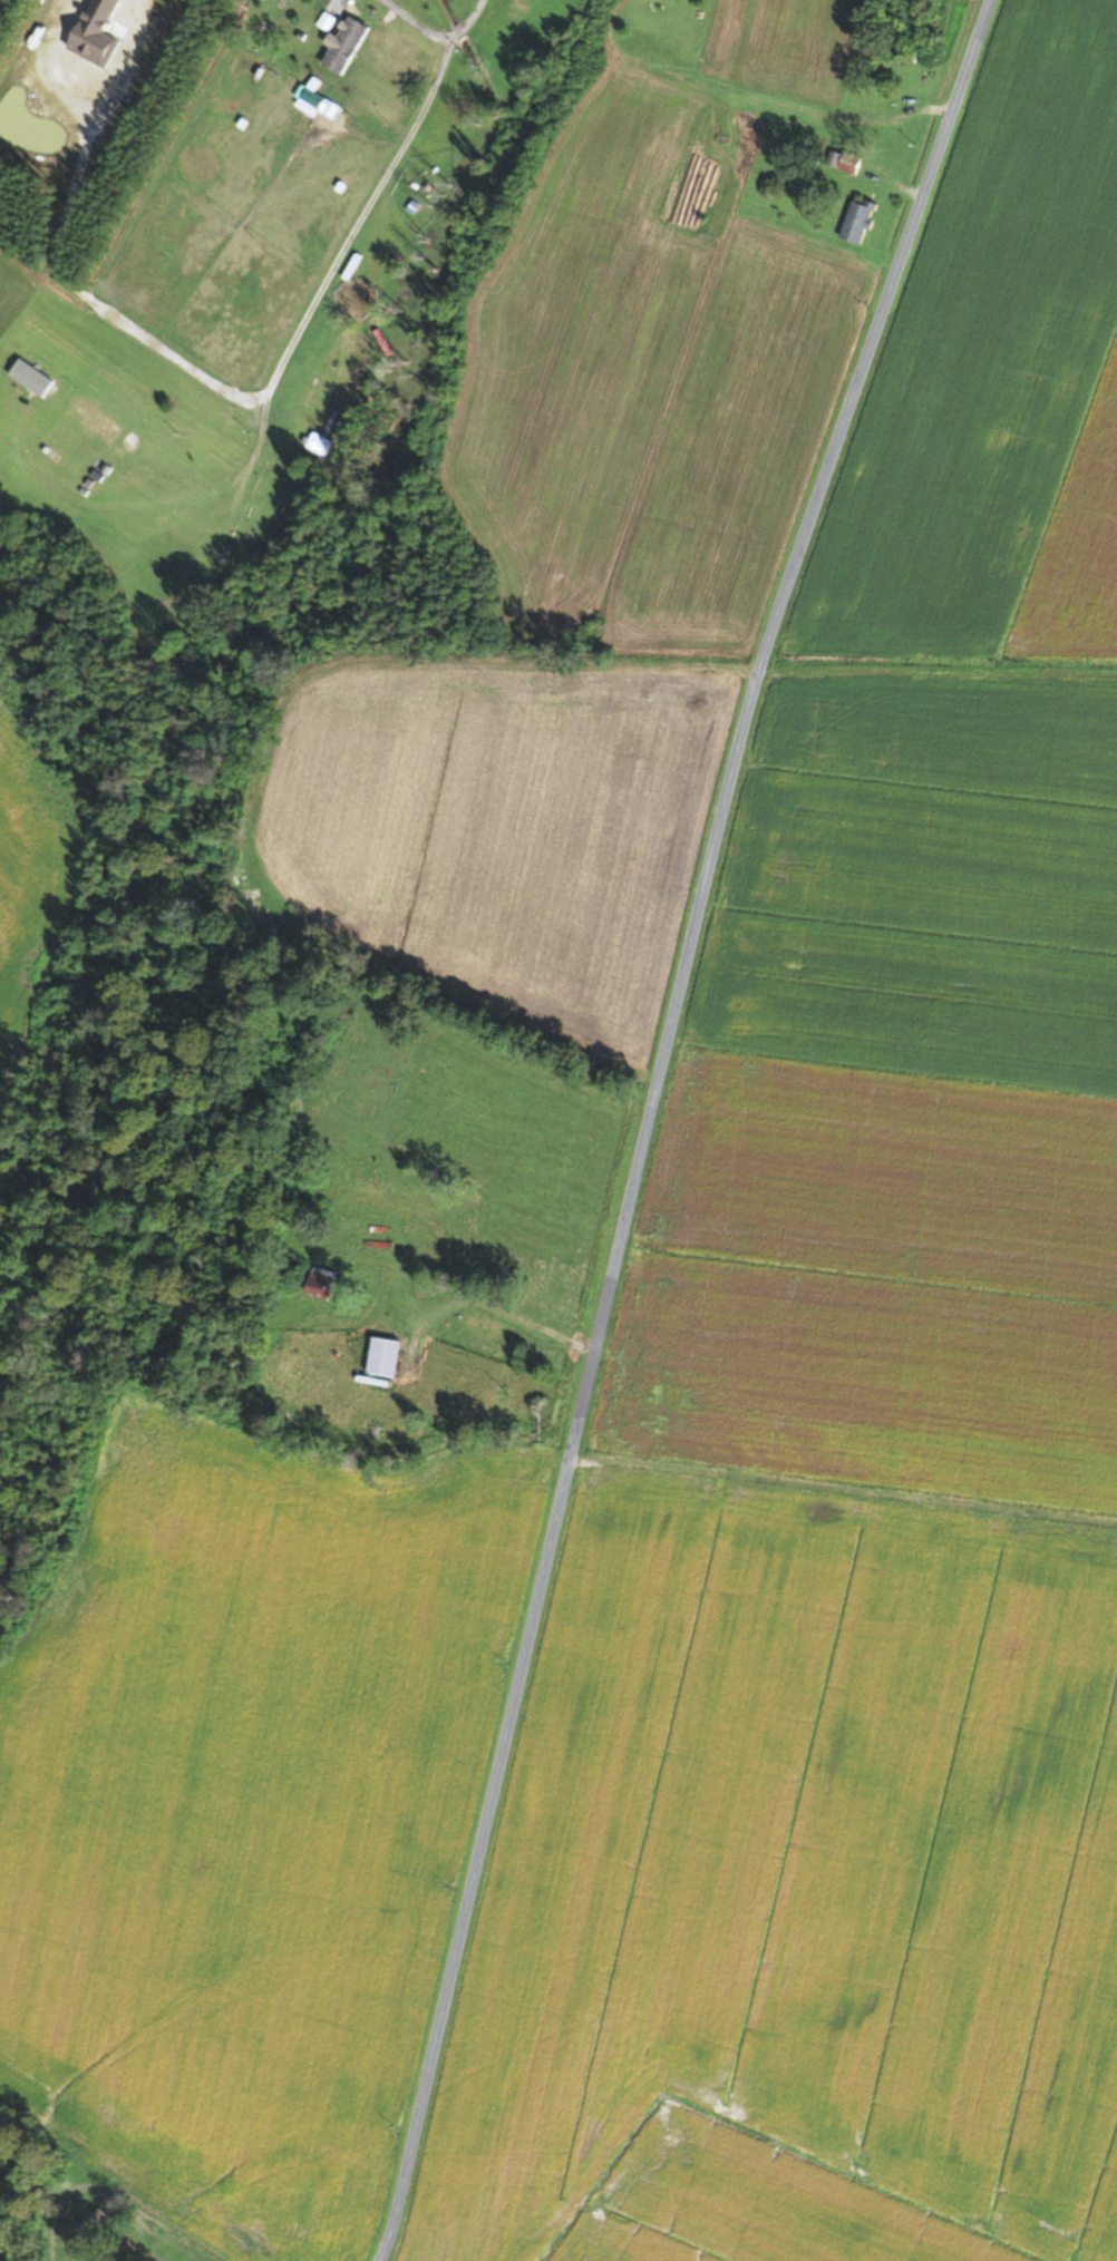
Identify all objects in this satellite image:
road: (417, 23)
building: (343, 43)
building: (810, 160)
building: (856, 221)
road: (346, 248)
building: (41, 380)
building: (93, 416)
road: (650, 1119)
building: (321, 1281)
building: (482, 1327)
building: (383, 1355)

